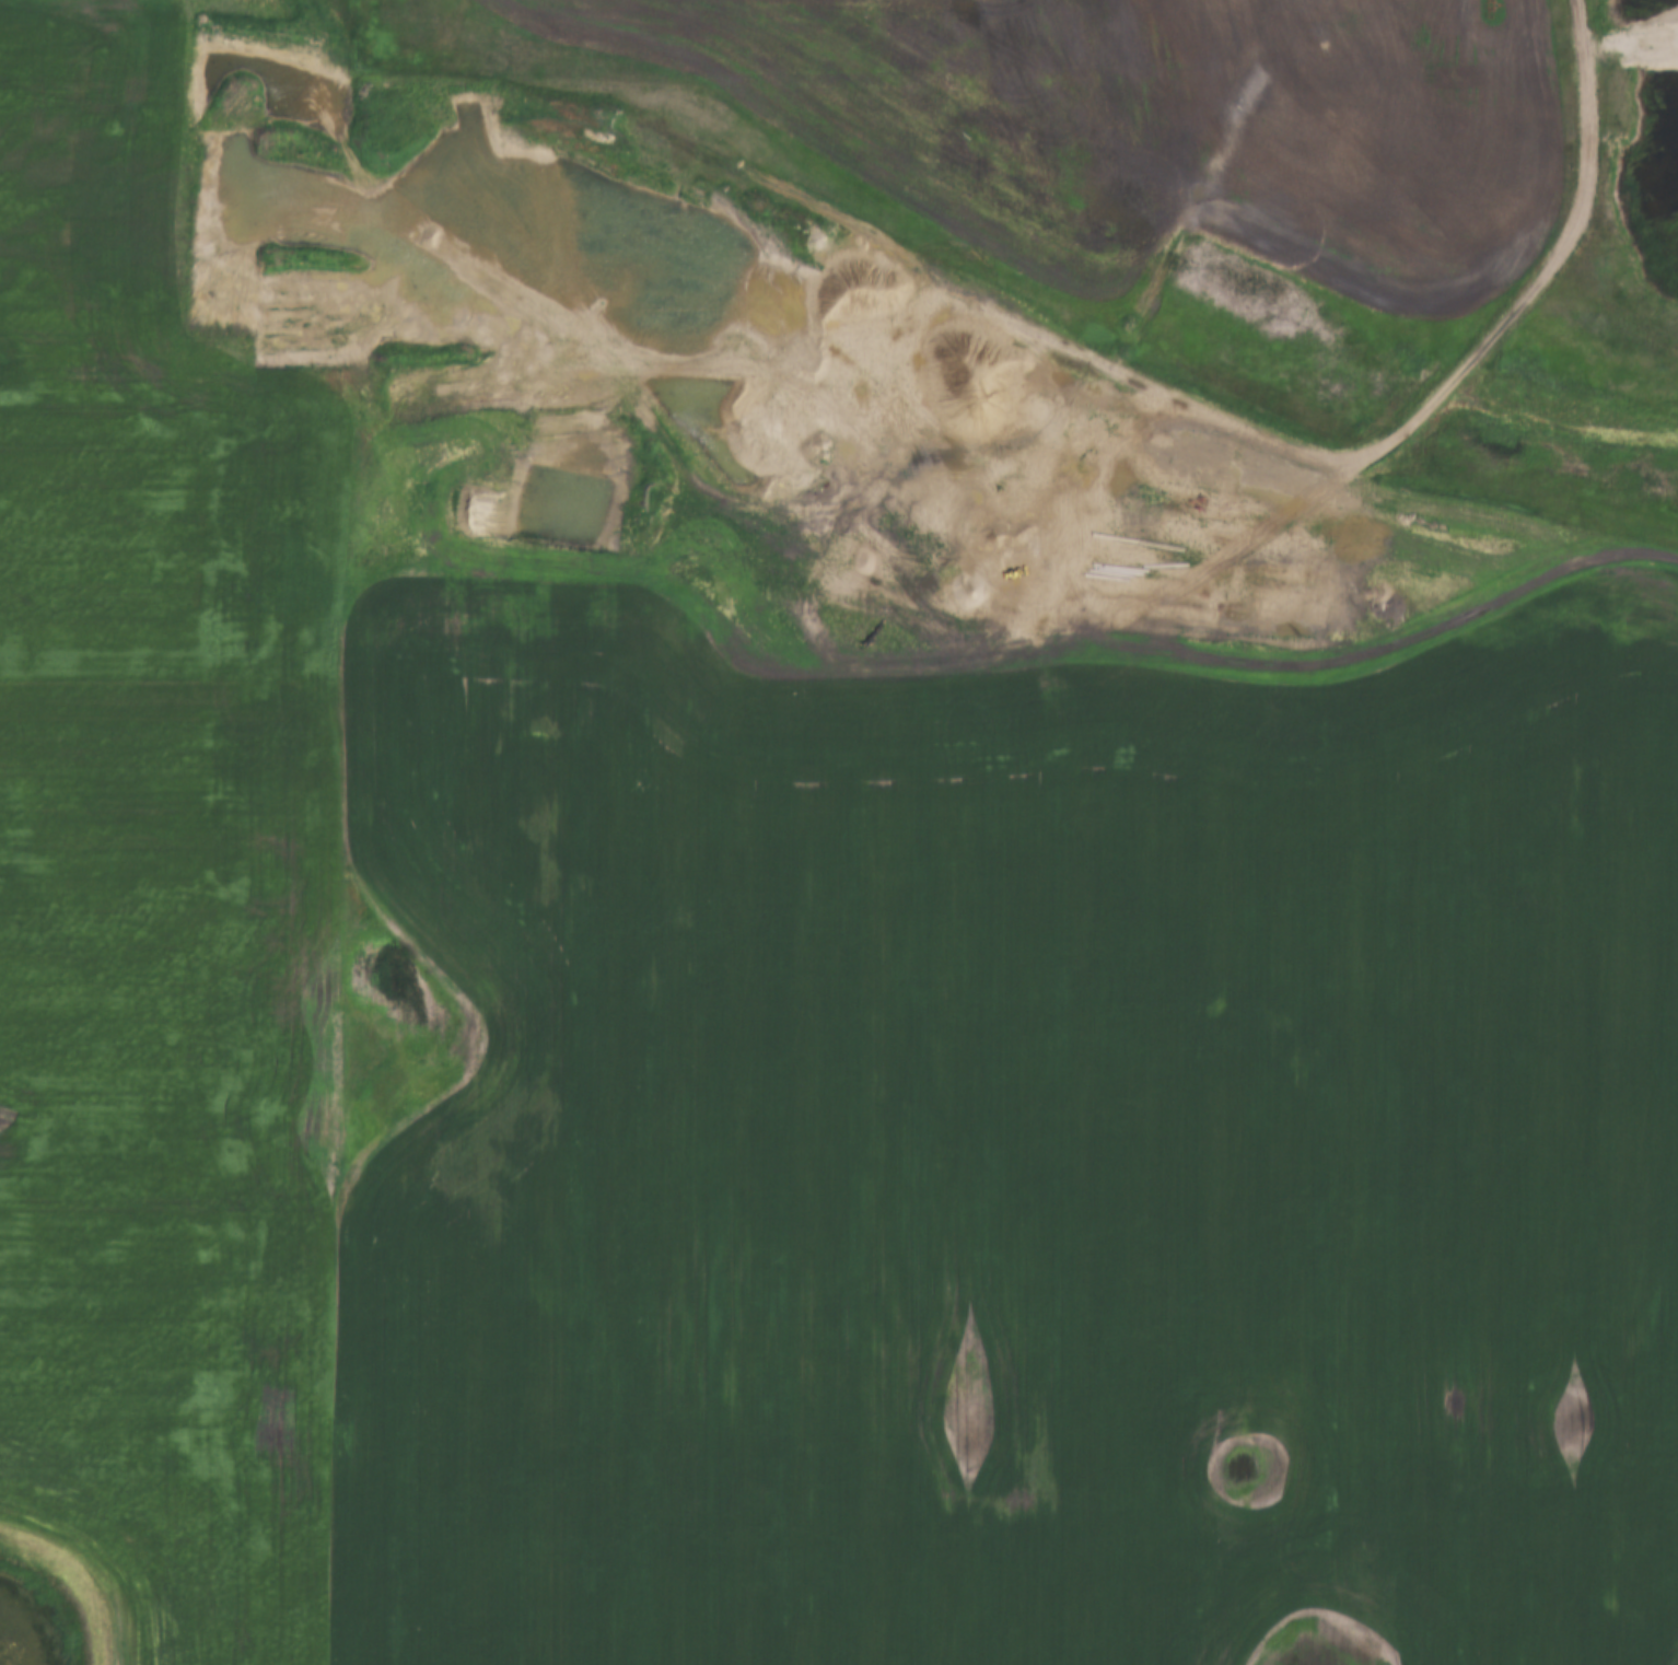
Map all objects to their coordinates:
road: (1667, 70)
quarry: (1646, 145)

